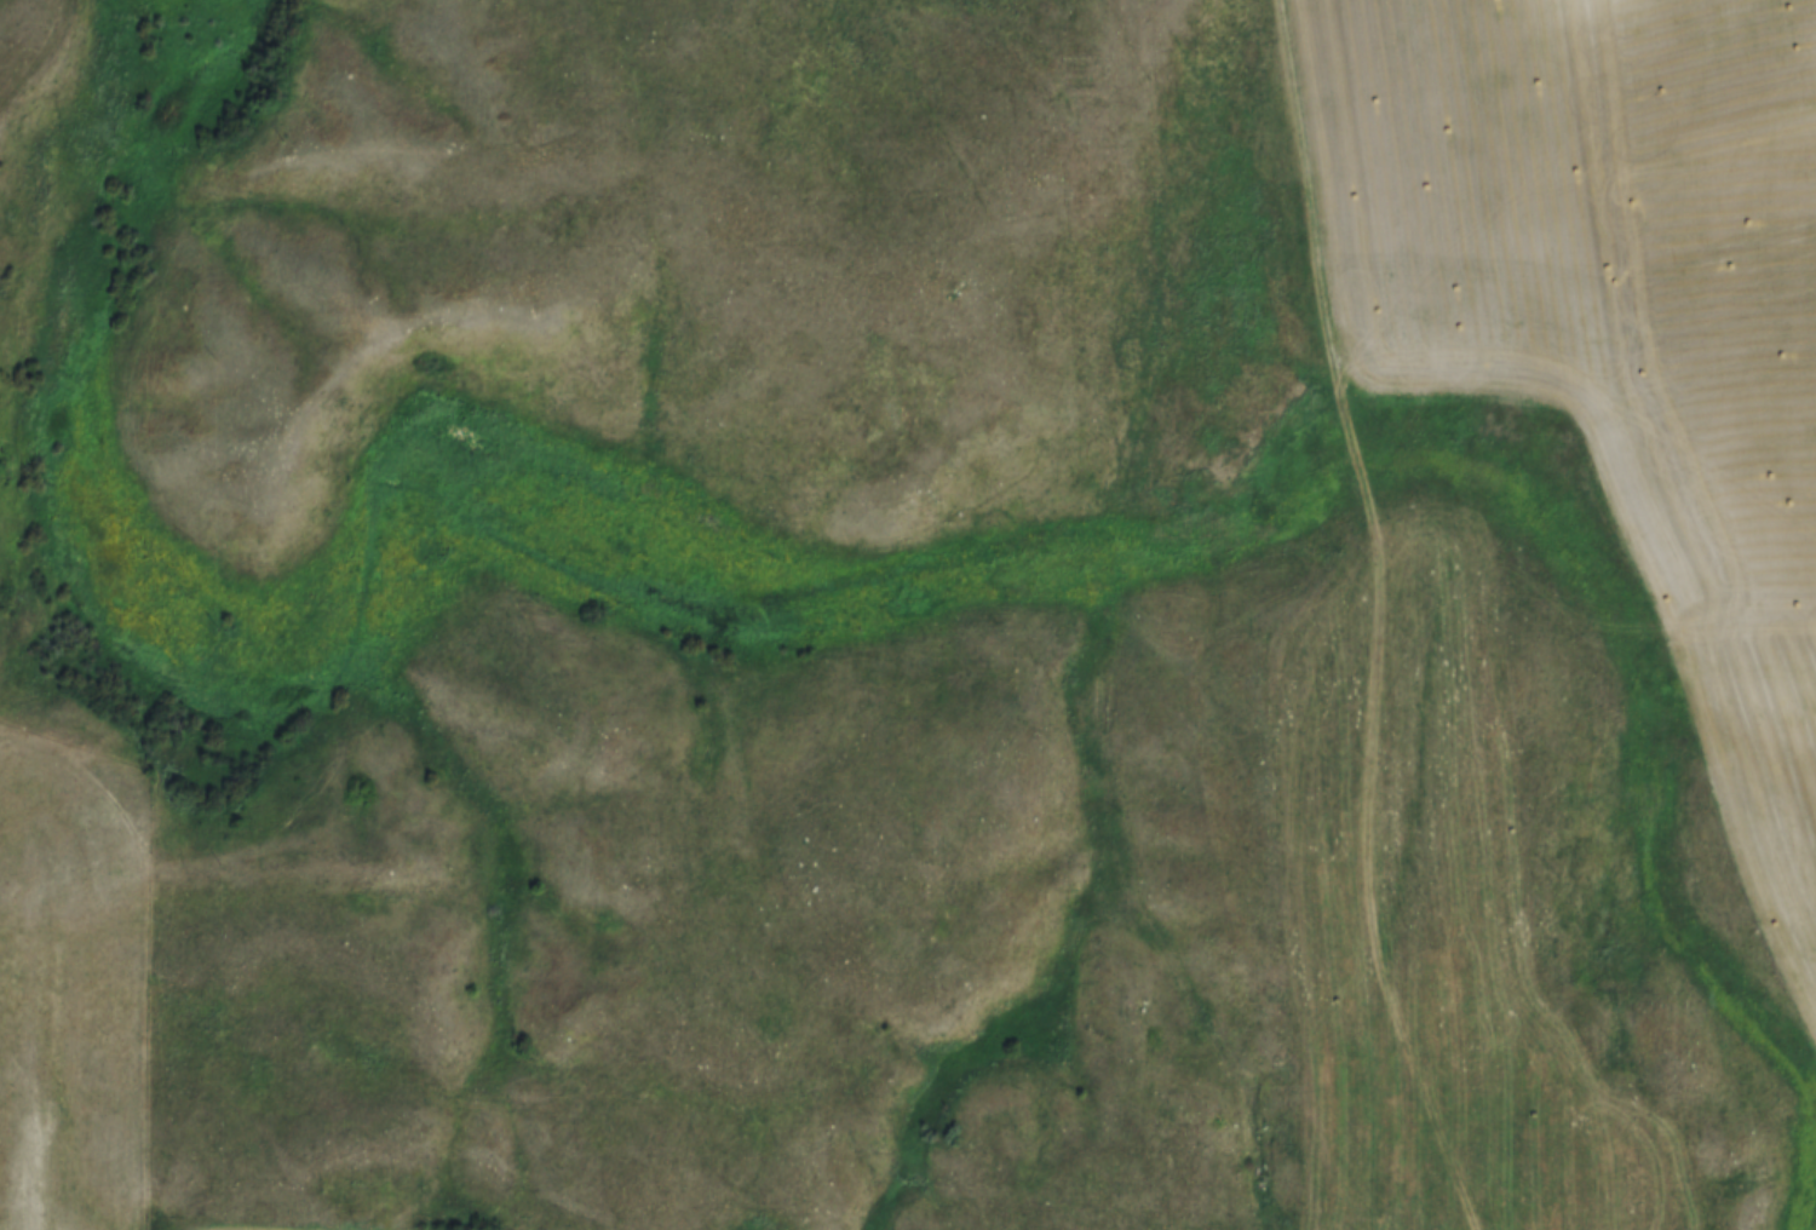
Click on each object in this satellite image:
road: (1367, 622)

